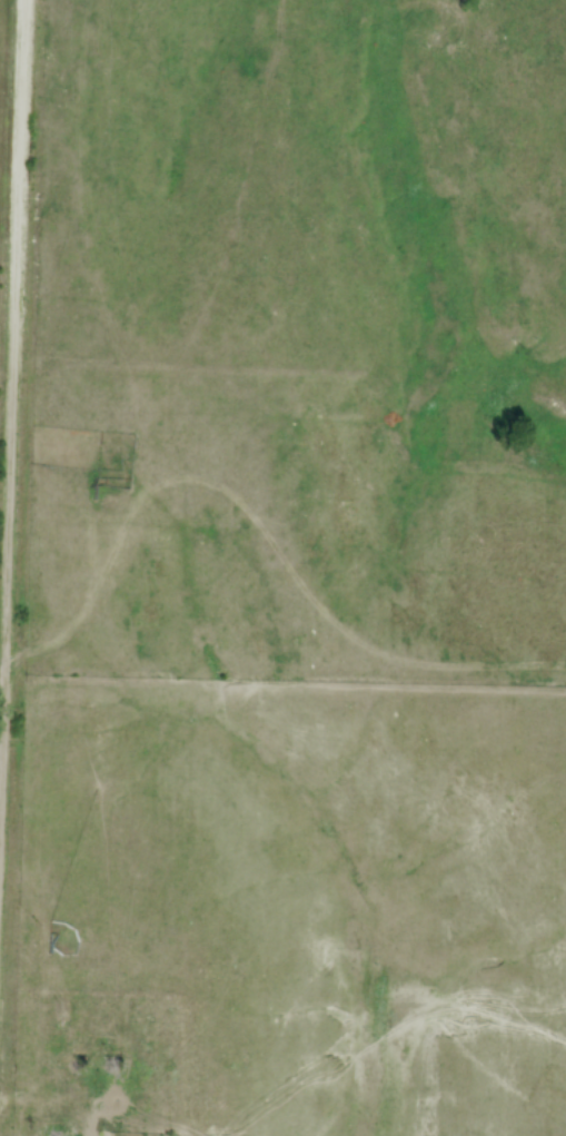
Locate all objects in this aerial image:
road: (13, 433)

